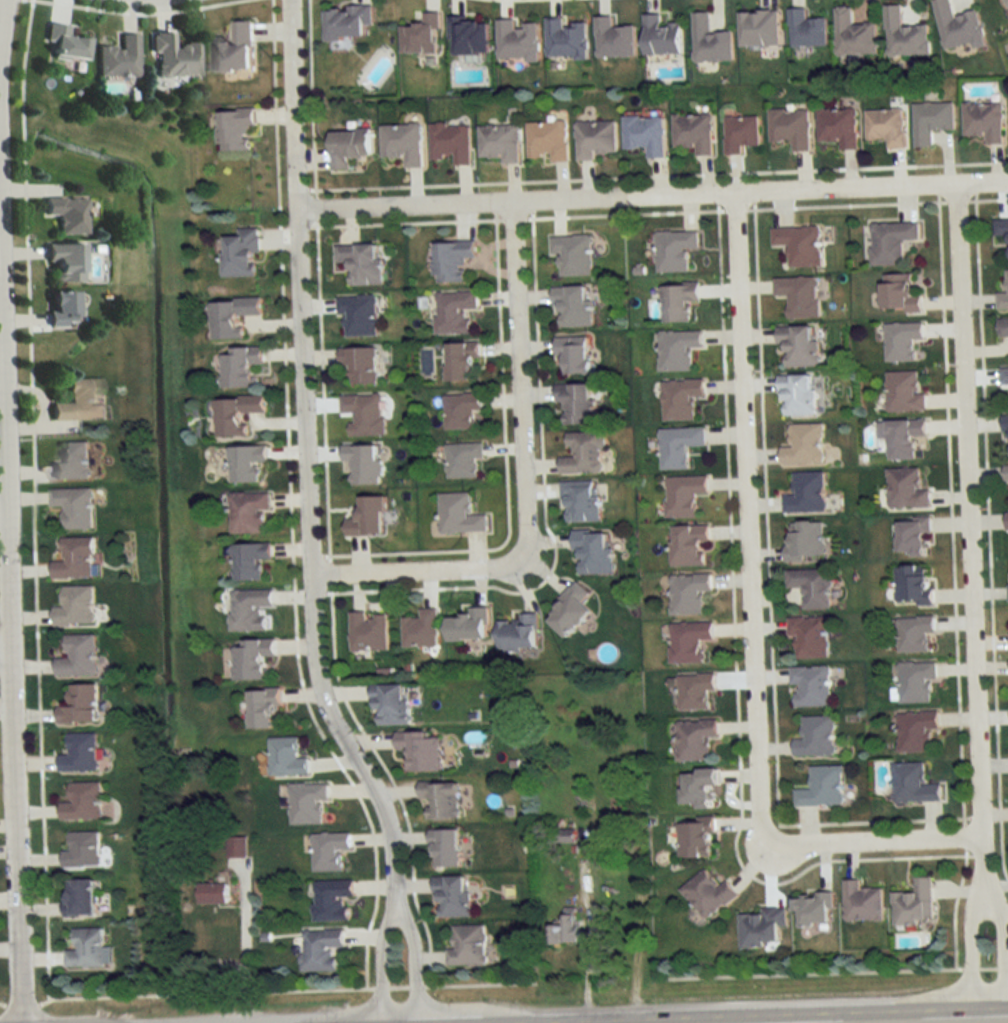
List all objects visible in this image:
road: (1, 8)
road: (135, 12)
building: (346, 23)
building: (958, 27)
building: (759, 29)
building: (807, 30)
building: (854, 35)
building: (905, 35)
building: (421, 36)
building: (469, 36)
building: (660, 36)
building: (613, 39)
building: (517, 40)
building: (565, 40)
building: (709, 41)
building: (62, 43)
building: (233, 50)
building: (116, 57)
building: (172, 57)
road: (310, 98)
building: (932, 121)
building: (984, 121)
building: (790, 127)
building: (838, 127)
building: (886, 127)
building: (235, 129)
building: (693, 133)
building: (740, 133)
building: (645, 134)
building: (594, 138)
building: (547, 140)
building: (499, 142)
building: (402, 143)
building: (449, 143)
building: (349, 147)
road: (657, 175)
road: (652, 195)
road: (987, 199)
road: (955, 201)
road: (844, 204)
road: (315, 207)
road: (733, 209)
building: (64, 213)
road: (622, 213)
road: (511, 218)
road: (405, 222)
building: (1000, 228)
building: (891, 242)
building: (800, 245)
building: (673, 250)
building: (241, 254)
building: (572, 254)
building: (451, 261)
building: (61, 263)
building: (361, 263)
building: (900, 294)
building: (799, 296)
building: (1003, 297)
building: (678, 302)
building: (572, 307)
building: (58, 309)
building: (454, 312)
building: (358, 316)
building: (231, 317)
building: (1003, 327)
building: (902, 342)
building: (798, 346)
building: (676, 350)
building: (573, 354)
building: (461, 362)
building: (360, 365)
building: (240, 366)
building: (1004, 377)
road: (322, 390)
building: (904, 393)
building: (797, 395)
road: (519, 396)
building: (680, 399)
building: (76, 403)
building: (574, 404)
building: (461, 411)
building: (236, 414)
building: (364, 414)
building: (1006, 434)
building: (905, 438)
building: (804, 445)
building: (679, 446)
building: (582, 454)
building: (462, 460)
building: (71, 462)
building: (246, 463)
road: (306, 464)
building: (363, 464)
road: (504, 469)
building: (1005, 473)
building: (907, 490)
building: (806, 494)
building: (683, 495)
road: (31, 499)
building: (579, 502)
road: (289, 503)
building: (74, 507)
road: (968, 508)
road: (542, 509)
road: (950, 509)
building: (248, 512)
building: (459, 515)
building: (368, 518)
building: (1007, 521)
road: (745, 533)
building: (914, 537)
road: (988, 537)
building: (805, 541)
building: (689, 546)
building: (592, 553)
building: (75, 560)
building: (250, 561)
road: (403, 570)
road: (329, 573)
building: (913, 586)
building: (812, 588)
building: (688, 593)
building: (75, 607)
road: (768, 609)
building: (250, 610)
building: (569, 611)
building: (468, 626)
building: (421, 630)
building: (368, 632)
building: (914, 634)
building: (518, 635)
building: (809, 637)
building: (689, 641)
road: (4, 652)
building: (77, 657)
road: (734, 657)
building: (252, 659)
building: (916, 682)
building: (810, 687)
road: (8, 691)
building: (694, 691)
building: (390, 704)
building: (79, 705)
building: (262, 708)
building: (916, 731)
building: (815, 737)
building: (694, 739)
building: (421, 751)
building: (80, 753)
building: (286, 758)
road: (390, 780)
building: (913, 784)
building: (698, 786)
building: (822, 788)
building: (440, 799)
building: (82, 802)
building: (307, 803)
road: (964, 836)
building: (695, 838)
road: (884, 839)
building: (236, 847)
building: (445, 849)
building: (81, 851)
building: (329, 851)
road: (983, 854)
building: (212, 894)
building: (707, 895)
building: (452, 897)
building: (79, 898)
building: (332, 900)
building: (861, 903)
building: (914, 905)
road: (953, 907)
building: (813, 911)
road: (398, 912)
building: (760, 927)
building: (564, 931)
road: (1000, 940)
road: (967, 941)
building: (467, 947)
building: (86, 949)
building: (320, 950)
road: (244, 964)
road: (810, 1017)

